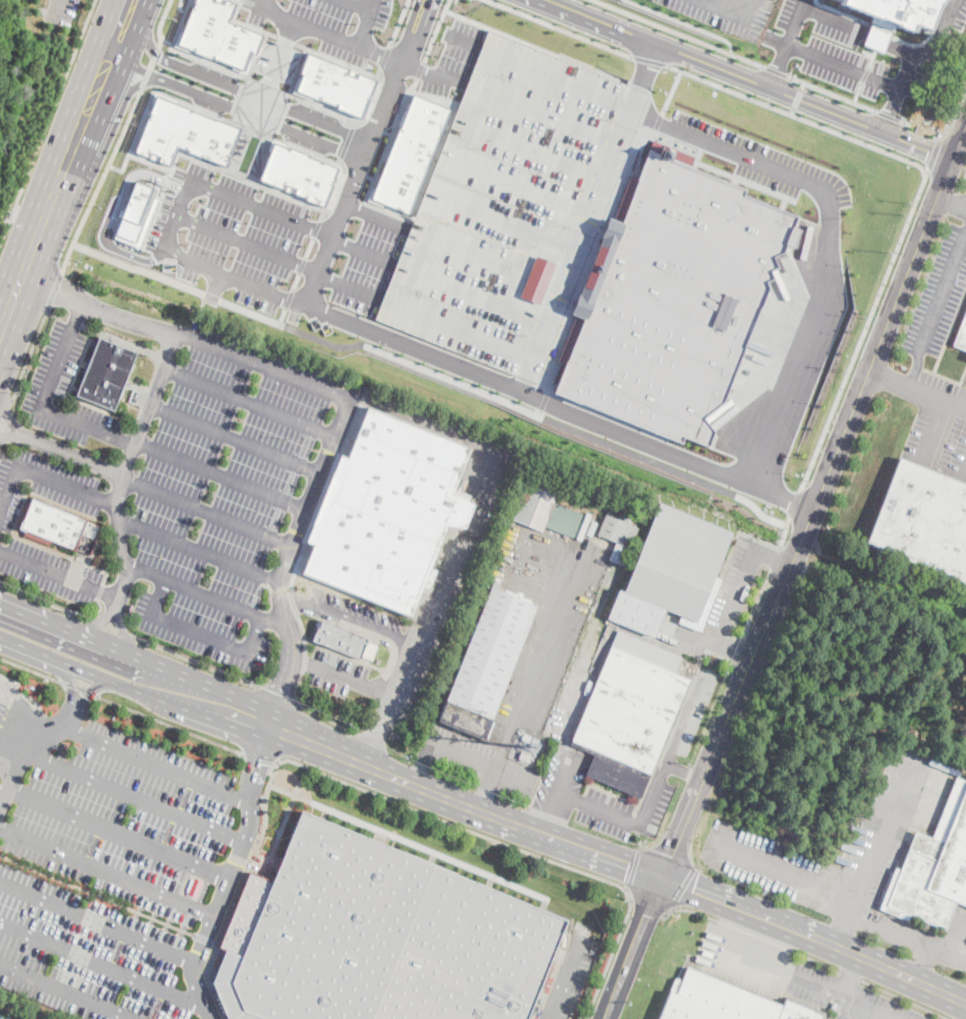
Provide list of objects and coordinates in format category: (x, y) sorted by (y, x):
road: (127, 4)
road: (357, 5)
road: (179, 6)
road: (736, 9)
road: (57, 10)
parking lot: (62, 10)
road: (444, 10)
building: (899, 12)
parking lot: (728, 15)
road: (601, 20)
road: (397, 21)
road: (684, 21)
road: (120, 23)
road: (160, 23)
road: (246, 23)
road: (365, 23)
road: (309, 27)
road: (559, 28)
road: (434, 30)
building: (217, 32)
road: (680, 33)
road: (162, 39)
road: (285, 39)
road: (170, 42)
road: (892, 44)
road: (541, 47)
road: (379, 55)
road: (384, 56)
road: (822, 56)
road: (338, 60)
road: (649, 60)
road: (209, 61)
road: (778, 64)
road: (149, 67)
road: (274, 69)
road: (296, 69)
road: (419, 69)
road: (778, 70)
road: (437, 73)
road: (865, 74)
road: (803, 83)
building: (334, 84)
road: (235, 88)
road: (858, 92)
road: (899, 92)
road: (834, 93)
road: (669, 95)
road: (797, 97)
road: (800, 98)
road: (248, 104)
road: (535, 107)
road: (234, 108)
road: (791, 111)
road: (345, 114)
road: (889, 115)
road: (548, 116)
road: (798, 117)
road: (233, 121)
road: (47, 122)
road: (925, 130)
building: (183, 131)
road: (267, 135)
road: (387, 139)
road: (349, 143)
road: (364, 151)
road: (934, 151)
building: (410, 152)
road: (533, 152)
road: (69, 154)
road: (462, 159)
parking lot: (764, 161)
road: (109, 165)
road: (220, 167)
building: (298, 172)
road: (505, 176)
road: (101, 178)
road: (447, 181)
road: (519, 189)
building: (498, 201)
parking garage: (498, 201)
road: (949, 202)
building: (136, 210)
road: (116, 212)
road: (175, 214)
road: (584, 214)
road: (505, 222)
road: (316, 226)
road: (534, 229)
parking lot: (228, 234)
road: (432, 236)
road: (828, 237)
road: (246, 243)
road: (309, 246)
road: (470, 252)
road: (301, 264)
road: (514, 269)
road: (418, 270)
road: (296, 280)
road: (178, 282)
road: (52, 285)
road: (55, 290)
road: (942, 292)
parking lot: (938, 295)
road: (475, 296)
road: (289, 297)
building: (670, 298)
road: (12, 301)
road: (206, 308)
road: (77, 311)
road: (281, 315)
road: (127, 320)
road: (2, 322)
road: (865, 328)
building: (961, 335)
road: (120, 340)
road: (322, 341)
road: (410, 346)
building: (115, 351)
road: (29, 357)
road: (263, 363)
road: (915, 370)
building: (107, 371)
road: (452, 379)
road: (915, 389)
parking lot: (66, 391)
building: (98, 393)
road: (249, 400)
road: (149, 403)
road: (42, 404)
road: (539, 407)
road: (5, 416)
road: (10, 418)
parking lot: (939, 426)
road: (11, 435)
road: (234, 438)
road: (126, 440)
road: (835, 446)
road: (662, 448)
road: (927, 453)
road: (73, 454)
road: (638, 454)
road: (39, 475)
road: (220, 475)
parking lot: (45, 484)
parking lot: (226, 490)
road: (794, 503)
road: (111, 504)
building: (545, 509)
road: (206, 511)
road: (759, 511)
building: (388, 512)
road: (20, 515)
building: (923, 520)
building: (58, 525)
road: (467, 533)
building: (618, 536)
road: (125, 542)
road: (773, 544)
road: (57, 546)
road: (200, 552)
road: (770, 556)
road: (517, 558)
road: (287, 559)
road: (774, 559)
road: (100, 568)
parking lot: (50, 570)
road: (50, 570)
building: (672, 571)
road: (100, 591)
road: (194, 591)
road: (111, 594)
road: (734, 596)
road: (757, 602)
road: (56, 606)
parking lot: (721, 606)
parking lot: (546, 612)
road: (349, 617)
road: (94, 621)
road: (274, 623)
road: (107, 625)
road: (199, 631)
road: (697, 634)
road: (123, 636)
road: (372, 636)
road: (85, 639)
building: (352, 643)
road: (543, 643)
road: (737, 649)
road: (734, 650)
parking lot: (332, 658)
road: (301, 660)
road: (195, 661)
building: (489, 661)
road: (80, 668)
road: (32, 669)
road: (340, 675)
road: (70, 679)
road: (80, 688)
road: (92, 688)
road: (382, 691)
road: (279, 695)
road: (22, 702)
road: (311, 710)
building: (631, 711)
road: (30, 716)
road: (171, 724)
road: (23, 726)
road: (18, 733)
road: (14, 743)
road: (30, 746)
building: (64, 747)
parking lot: (569, 747)
road: (10, 751)
road: (461, 754)
building: (525, 755)
road: (261, 757)
road: (8, 761)
parking lot: (481, 762)
road: (155, 764)
road: (421, 765)
road: (654, 766)
road: (6, 771)
road: (684, 772)
road: (410, 782)
road: (659, 782)
road: (485, 788)
road: (611, 788)
road: (608, 791)
road: (556, 793)
road: (131, 799)
road: (285, 817)
road: (635, 822)
road: (681, 827)
road: (117, 833)
road: (880, 837)
road: (638, 838)
road: (412, 842)
road: (515, 846)
parking lot: (856, 852)
road: (672, 853)
building: (933, 867)
road: (260, 868)
road: (634, 869)
road: (106, 871)
parking lot: (109, 874)
road: (228, 874)
road: (785, 874)
traffic signals: (661, 877)
building: (196, 886)
road: (682, 887)
road: (239, 891)
road: (107, 899)
road: (648, 906)
road: (692, 910)
road: (891, 913)
road: (96, 922)
road: (962, 927)
road: (731, 928)
road: (638, 929)
road: (841, 932)
road: (755, 935)
building: (374, 937)
road: (813, 938)
road: (907, 938)
road: (952, 940)
road: (816, 960)
road: (925, 965)
road: (102, 966)
road: (849, 973)
parking lot: (570, 974)
road: (850, 975)
road: (566, 978)
road: (802, 979)
road: (66, 992)
parking lot: (840, 993)
road: (903, 997)
road: (610, 1001)
building: (725, 1001)
road: (806, 1001)
parking lot: (3, 1017)

